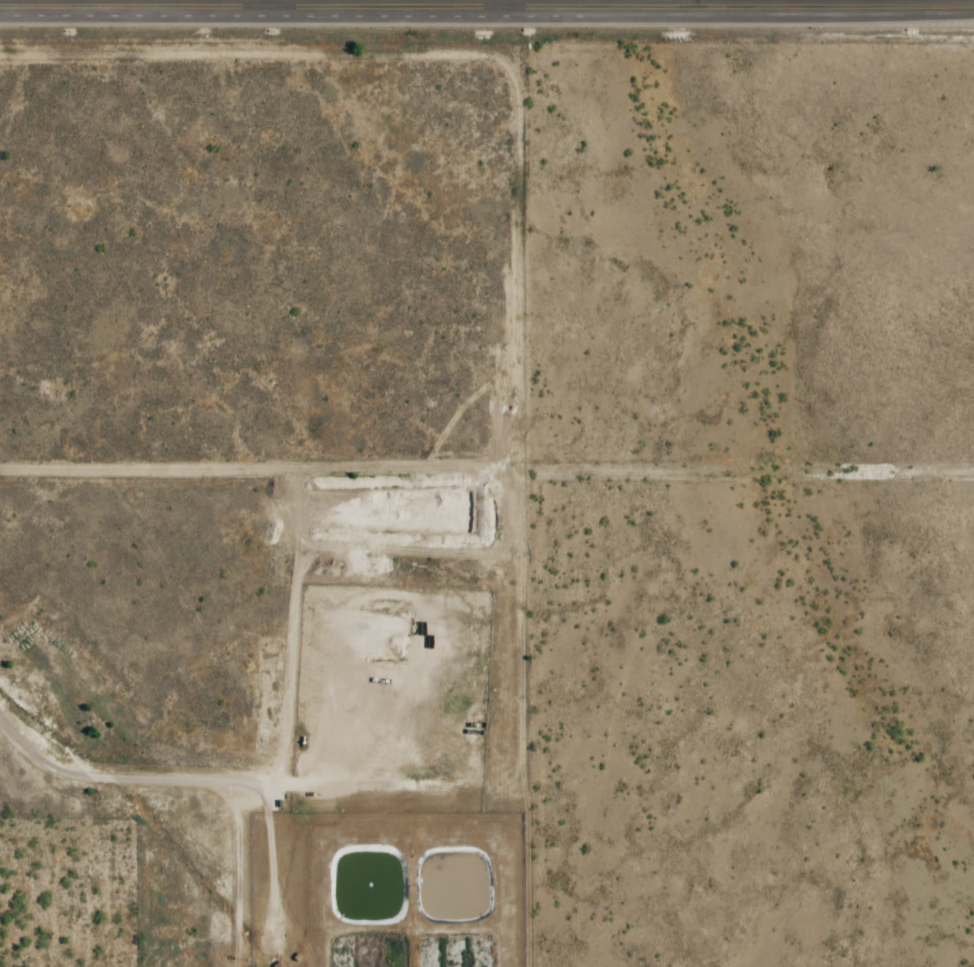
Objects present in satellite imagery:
road: (56, 4)
road: (253, 4)
road: (511, 5)
road: (773, 5)
road: (362, 9)
road: (883, 10)
road: (758, 11)
road: (153, 780)

